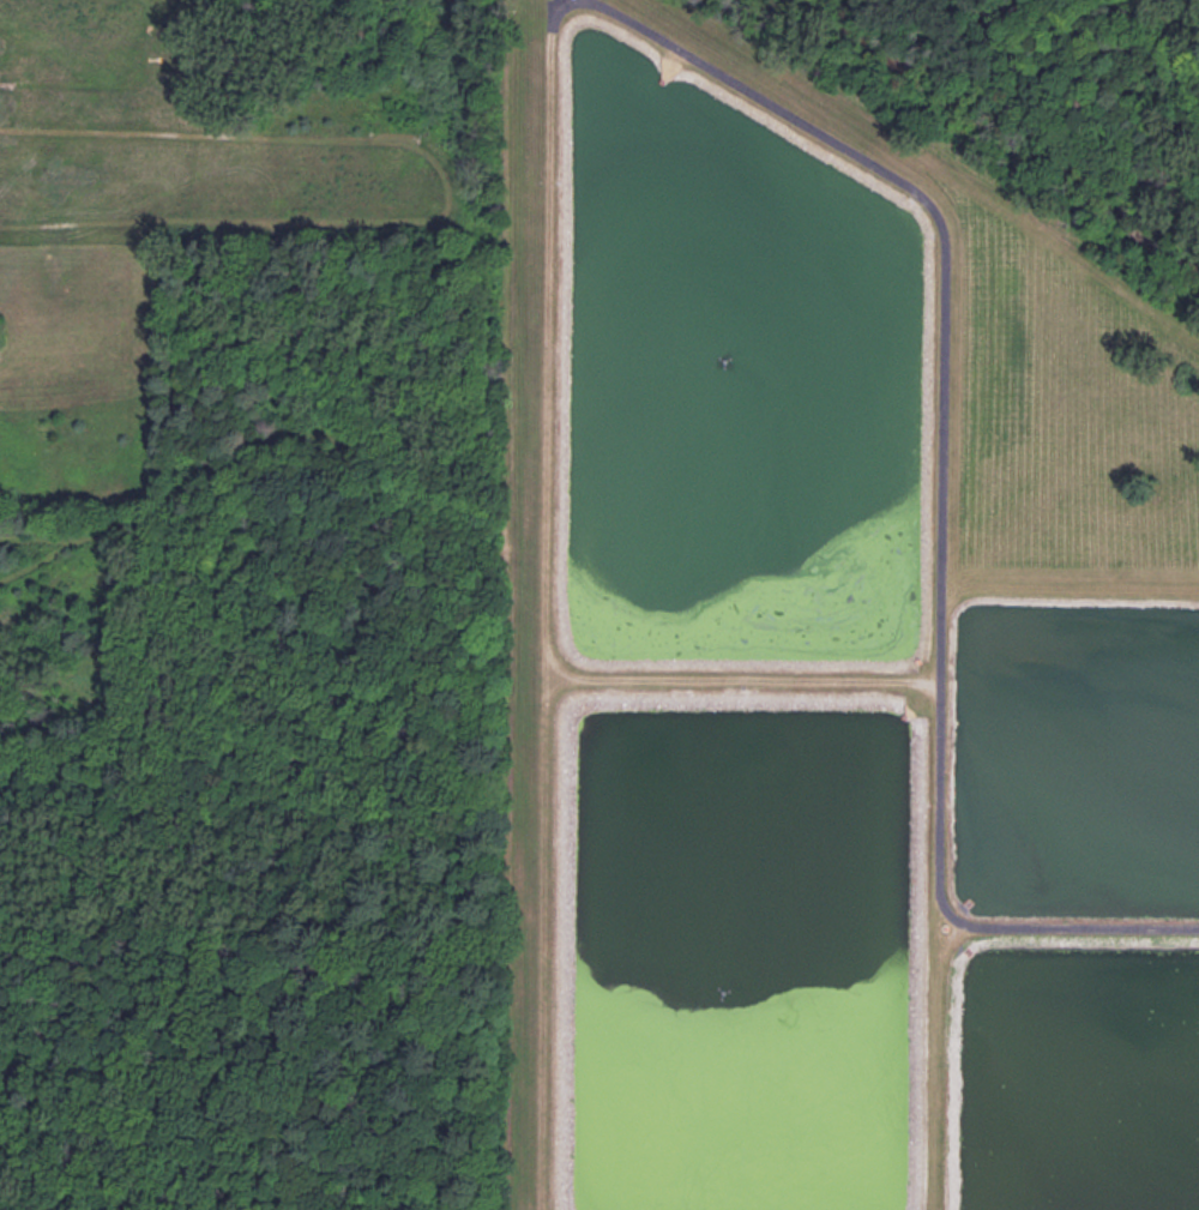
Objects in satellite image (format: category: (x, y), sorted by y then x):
road: (556, 11)
road: (942, 482)

